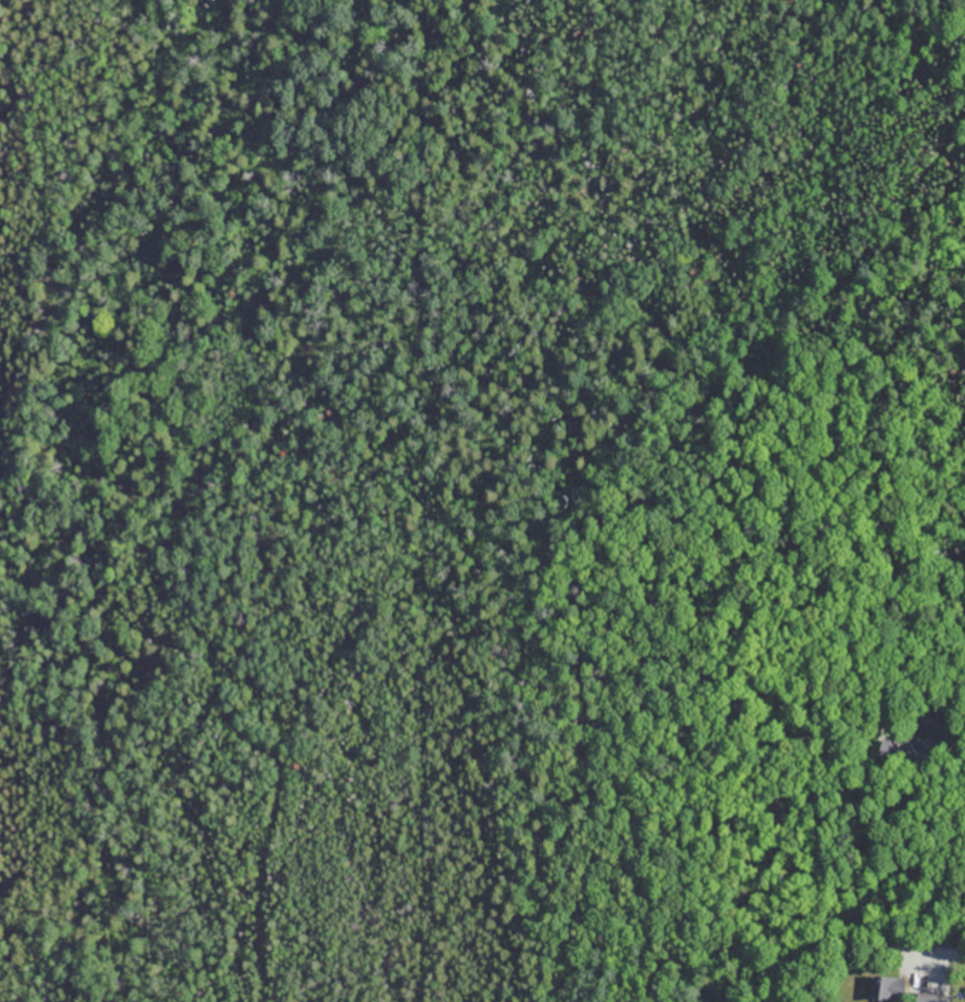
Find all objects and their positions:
road: (953, 703)
road: (945, 952)
building: (888, 987)
building: (932, 997)

